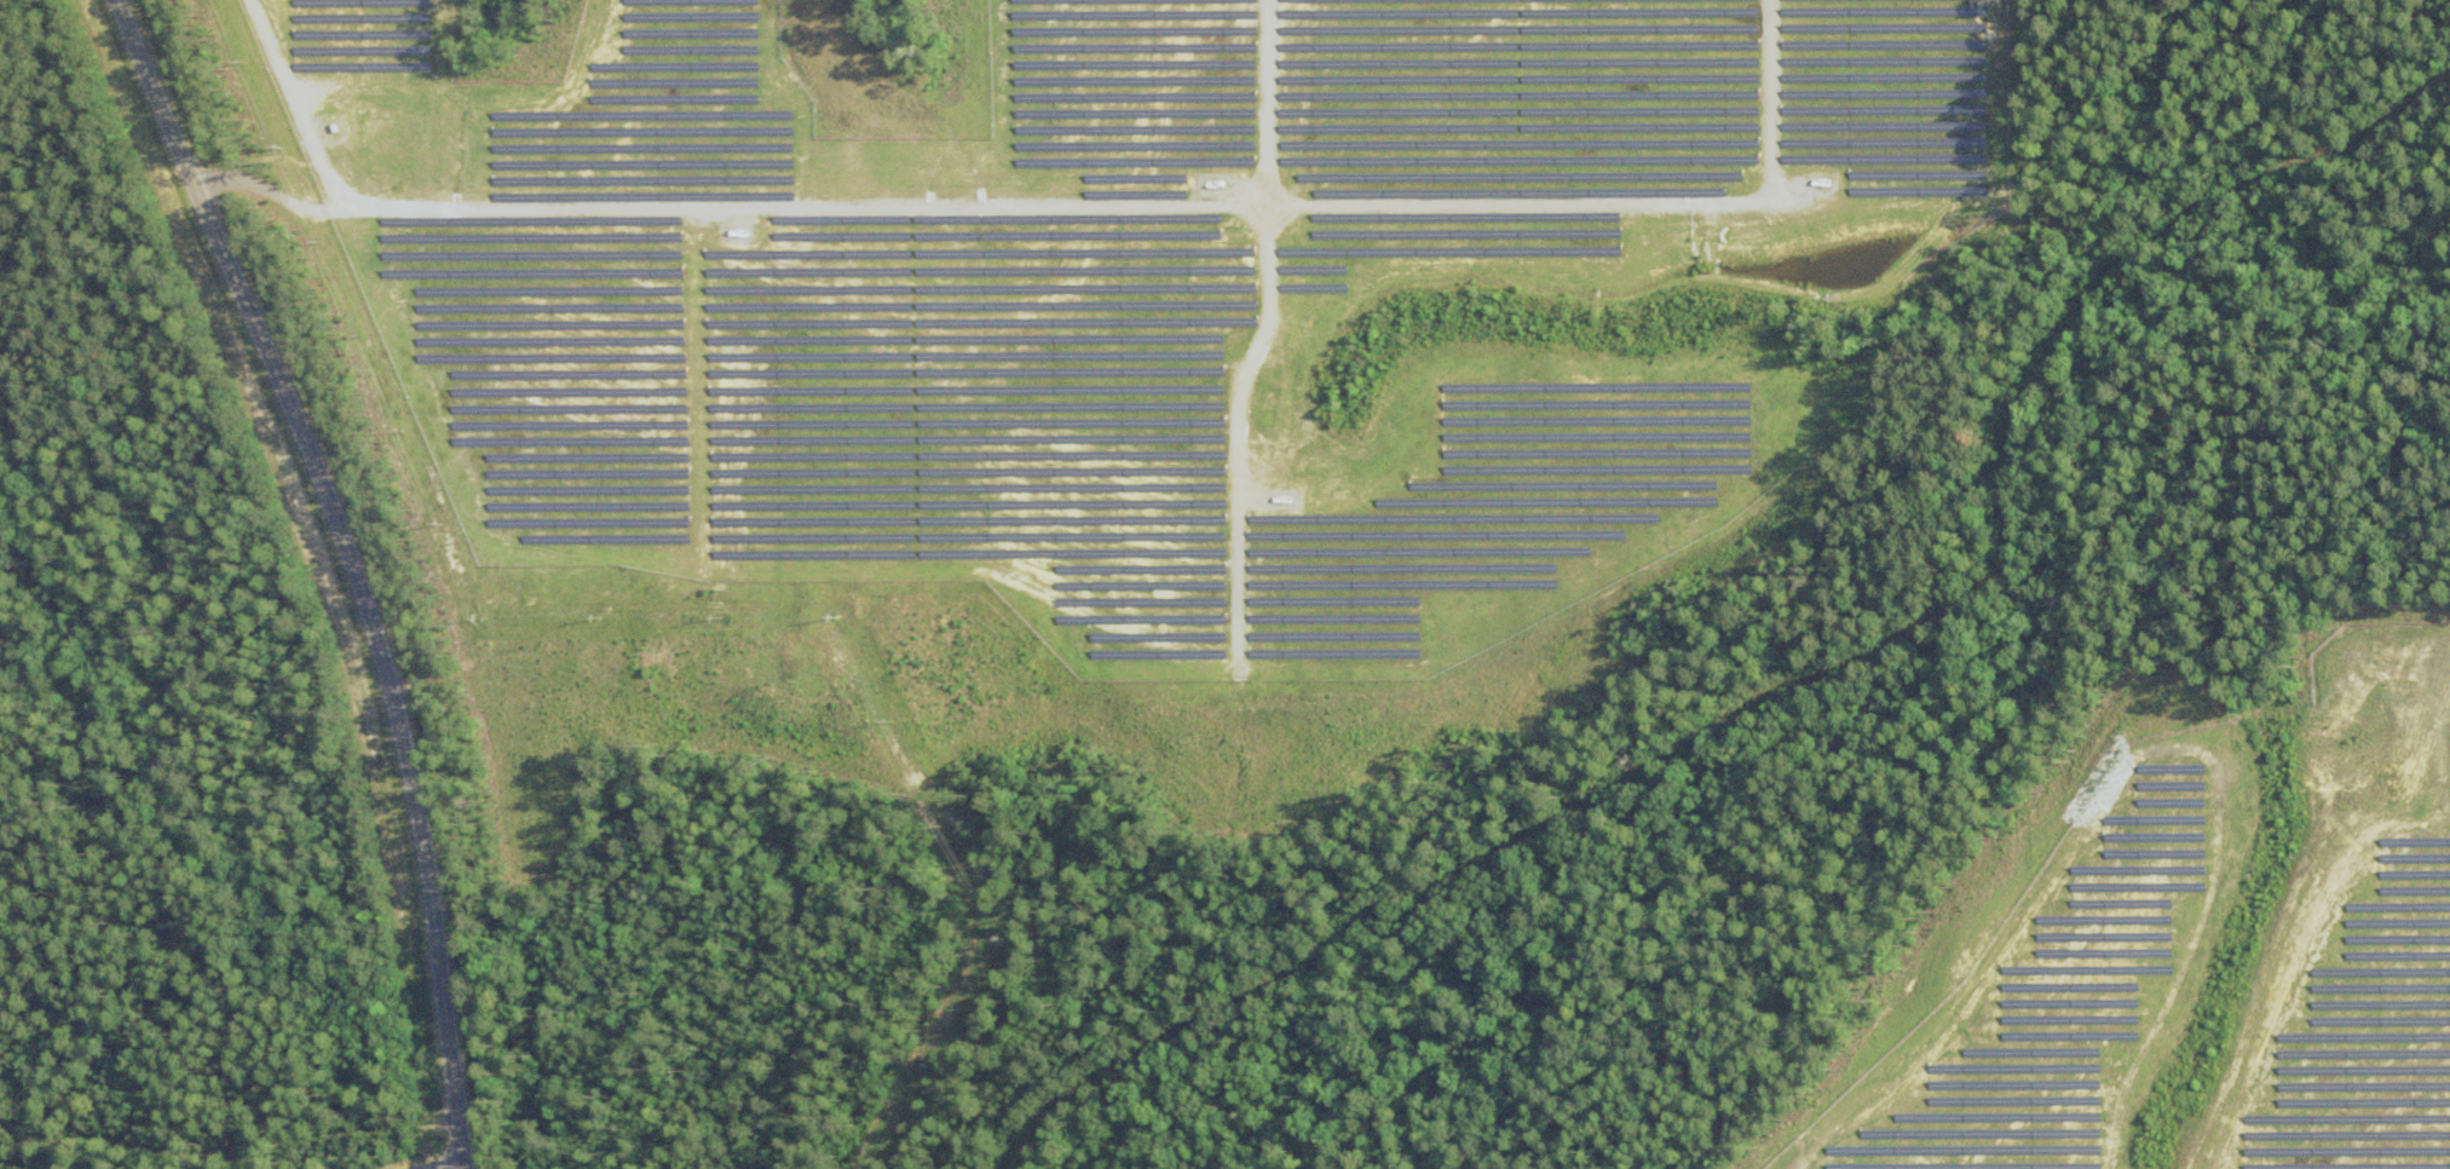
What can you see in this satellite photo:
solar farm: (1152, 301)
road: (338, 570)
road: (407, 676)
solar farm: (2210, 957)
park: (208, 1136)
road: (461, 1167)

